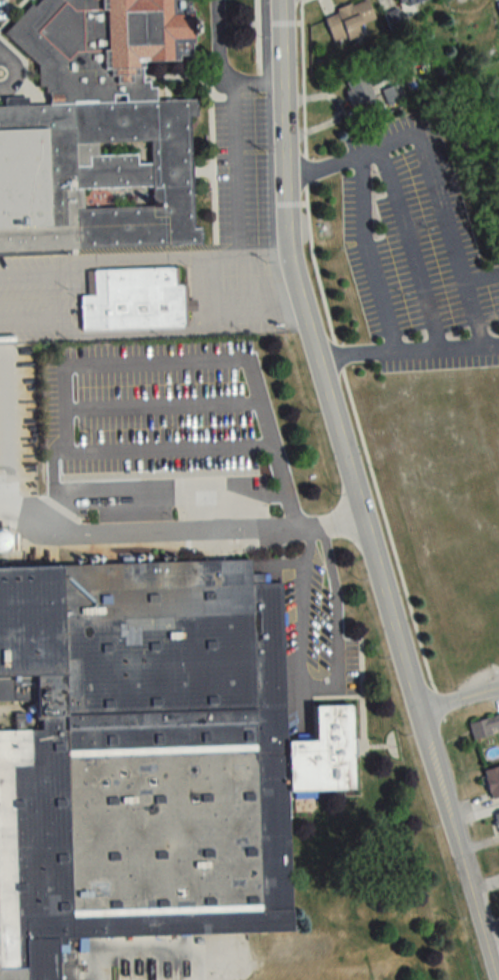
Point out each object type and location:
building: (449, 1)
building: (409, 3)
building: (498, 3)
building: (349, 21)
road: (257, 34)
building: (359, 89)
building: (393, 95)
building: (98, 131)
road: (232, 143)
road: (432, 151)
road: (407, 246)
road: (248, 252)
road: (368, 252)
road: (102, 256)
road: (209, 278)
road: (252, 298)
building: (132, 300)
road: (472, 311)
road: (109, 332)
road: (407, 349)
road: (155, 362)
road: (340, 365)
road: (161, 402)
road: (355, 494)
road: (178, 525)
road: (324, 687)
road: (457, 700)
building: (484, 726)
building: (147, 757)
building: (492, 780)
building: (497, 820)

